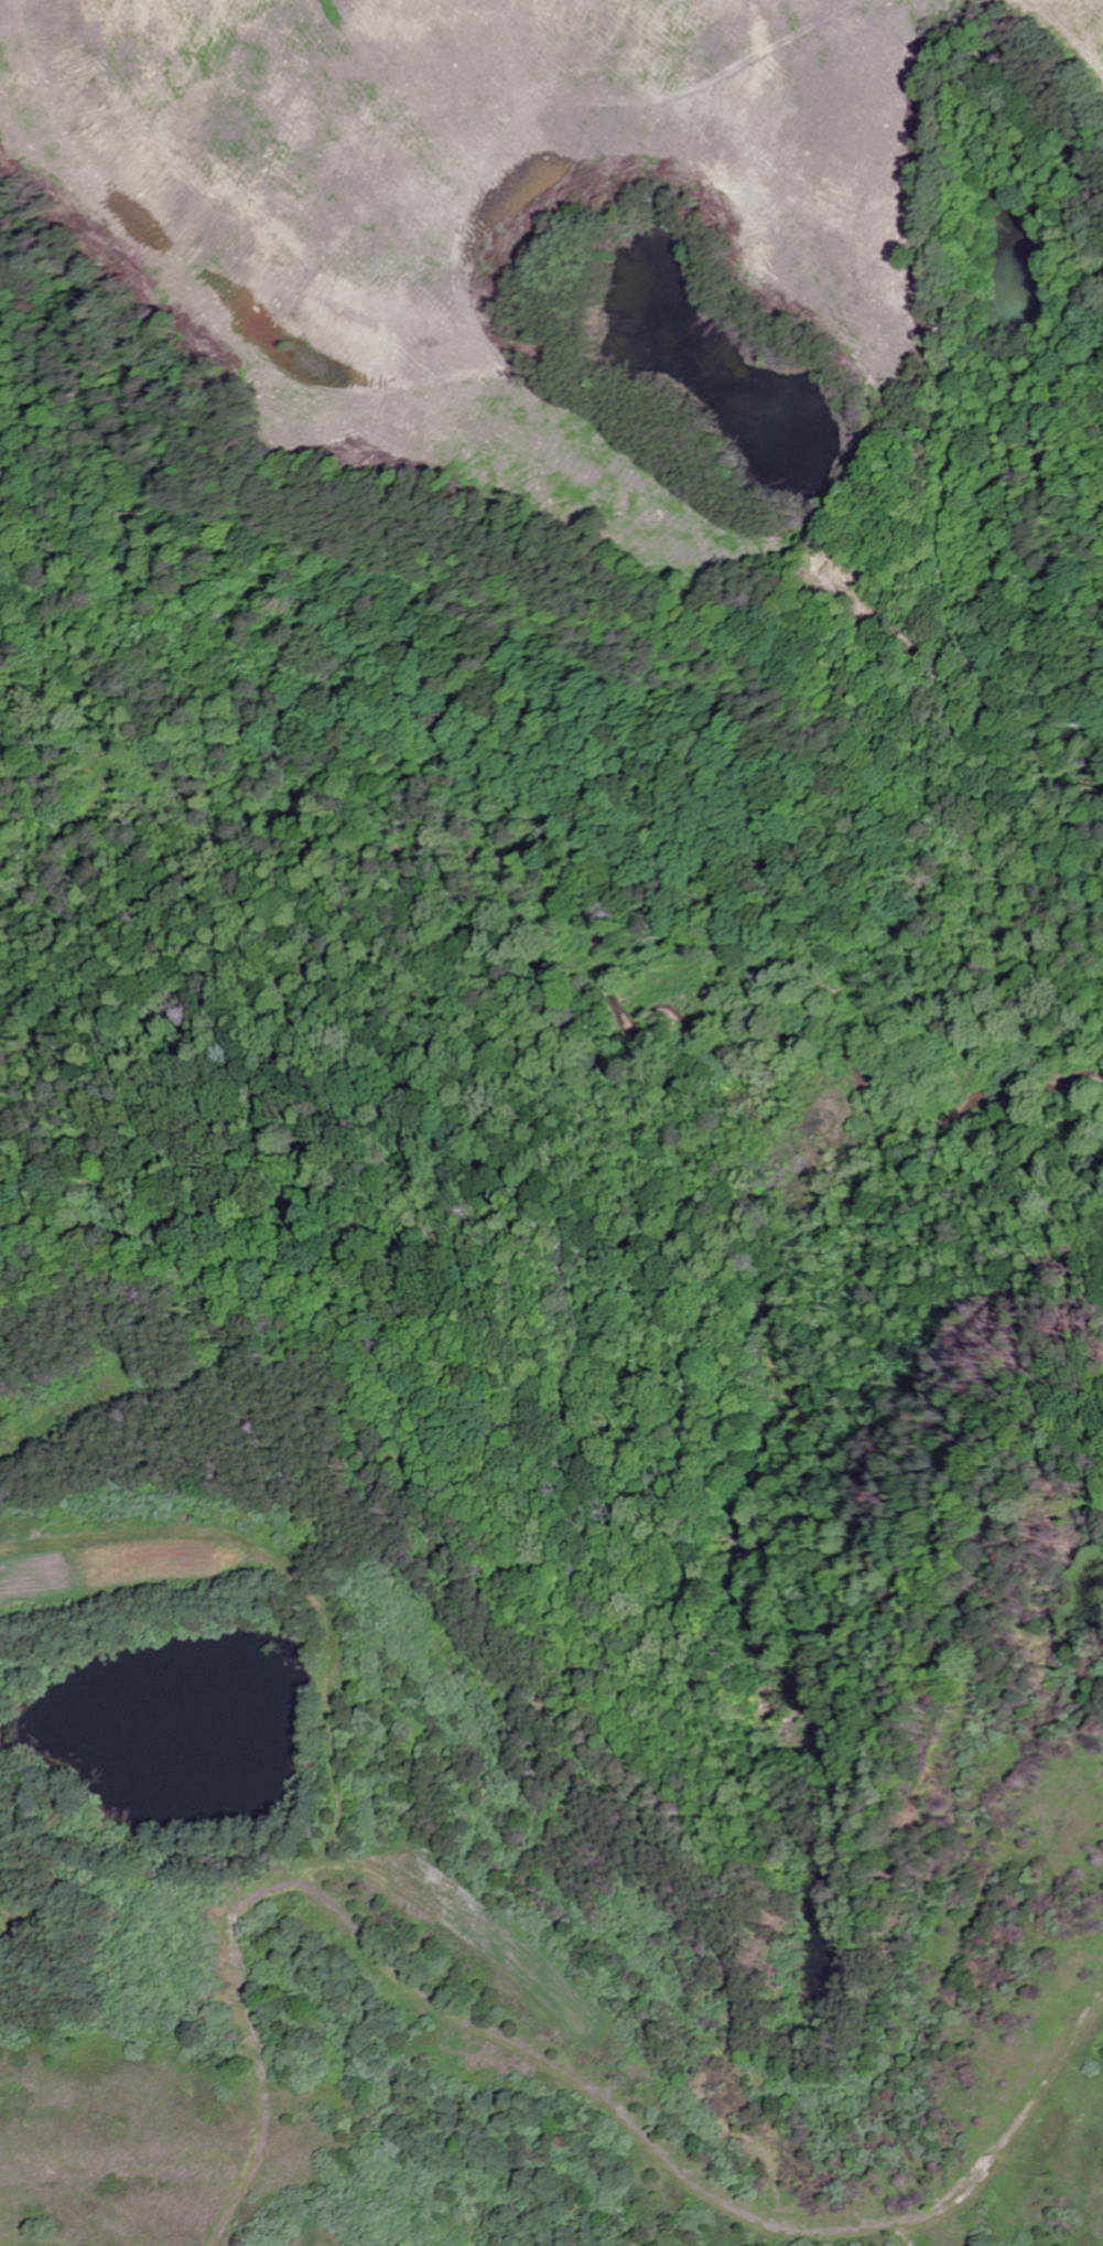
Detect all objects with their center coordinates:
road: (607, 498)
road: (323, 1794)
road: (693, 2190)

